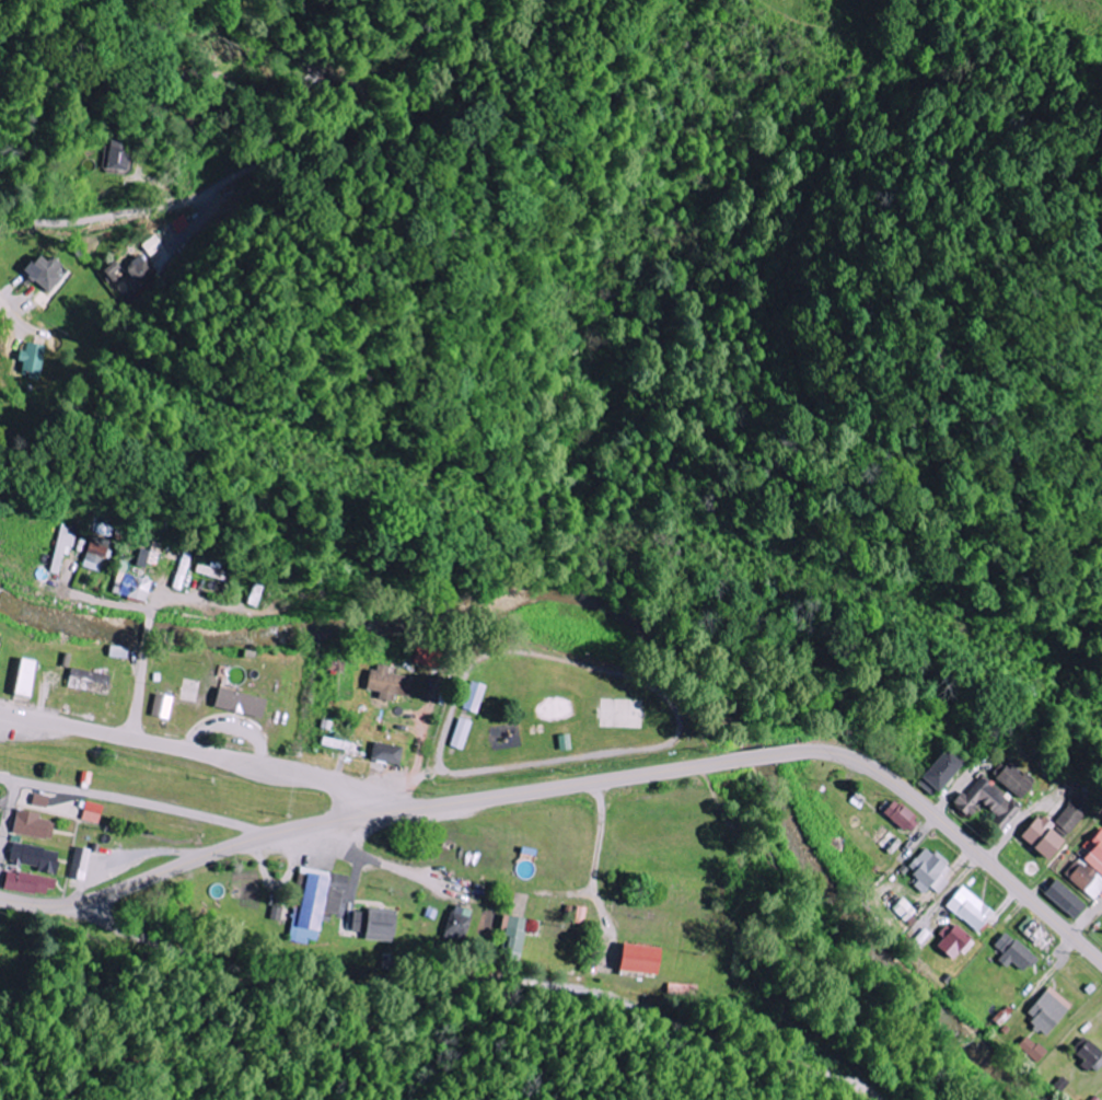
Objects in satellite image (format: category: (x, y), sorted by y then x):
building: (115, 157)
road: (136, 212)
building: (165, 257)
building: (43, 273)
building: (130, 274)
road: (0, 300)
building: (30, 359)
building: (106, 529)
building: (61, 548)
building: (94, 552)
building: (142, 557)
road: (147, 630)
building: (22, 679)
building: (85, 681)
building: (385, 683)
road: (43, 696)
building: (472, 697)
building: (235, 703)
park: (546, 716)
building: (459, 734)
road: (201, 751)
building: (383, 753)
building: (939, 768)
building: (1013, 779)
road: (580, 784)
road: (962, 784)
road: (135, 802)
building: (986, 802)
building: (90, 812)
building: (898, 815)
building: (1070, 815)
road: (11, 823)
building: (30, 825)
road: (918, 833)
road: (1009, 836)
building: (1040, 836)
road: (367, 854)
building: (33, 857)
building: (79, 864)
building: (1090, 868)
building: (927, 870)
building: (26, 883)
road: (962, 891)
building: (1063, 899)
building: (316, 904)
building: (902, 908)
building: (967, 908)
road: (1088, 922)
building: (459, 923)
building: (373, 924)
building: (513, 935)
building: (951, 941)
road: (1063, 949)
building: (1011, 952)
building: (636, 959)
road: (480, 979)
building: (686, 992)
building: (1044, 1010)
building: (1030, 1049)
building: (1088, 1056)

